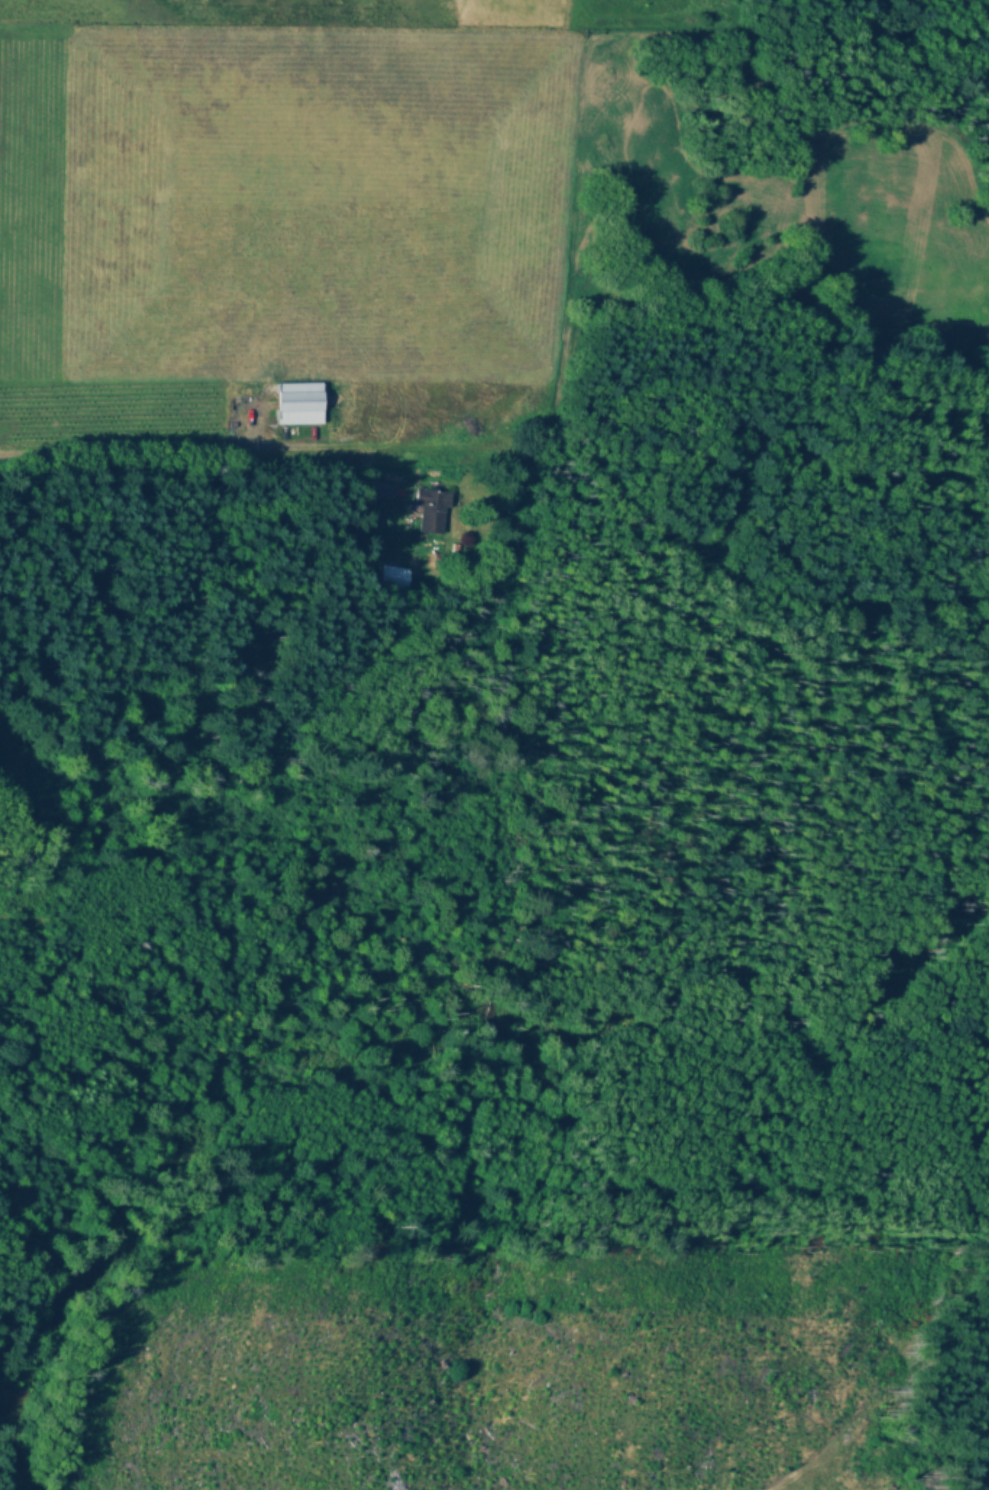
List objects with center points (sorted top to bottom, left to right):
building: (298, 404)
building: (430, 511)
building: (393, 578)

